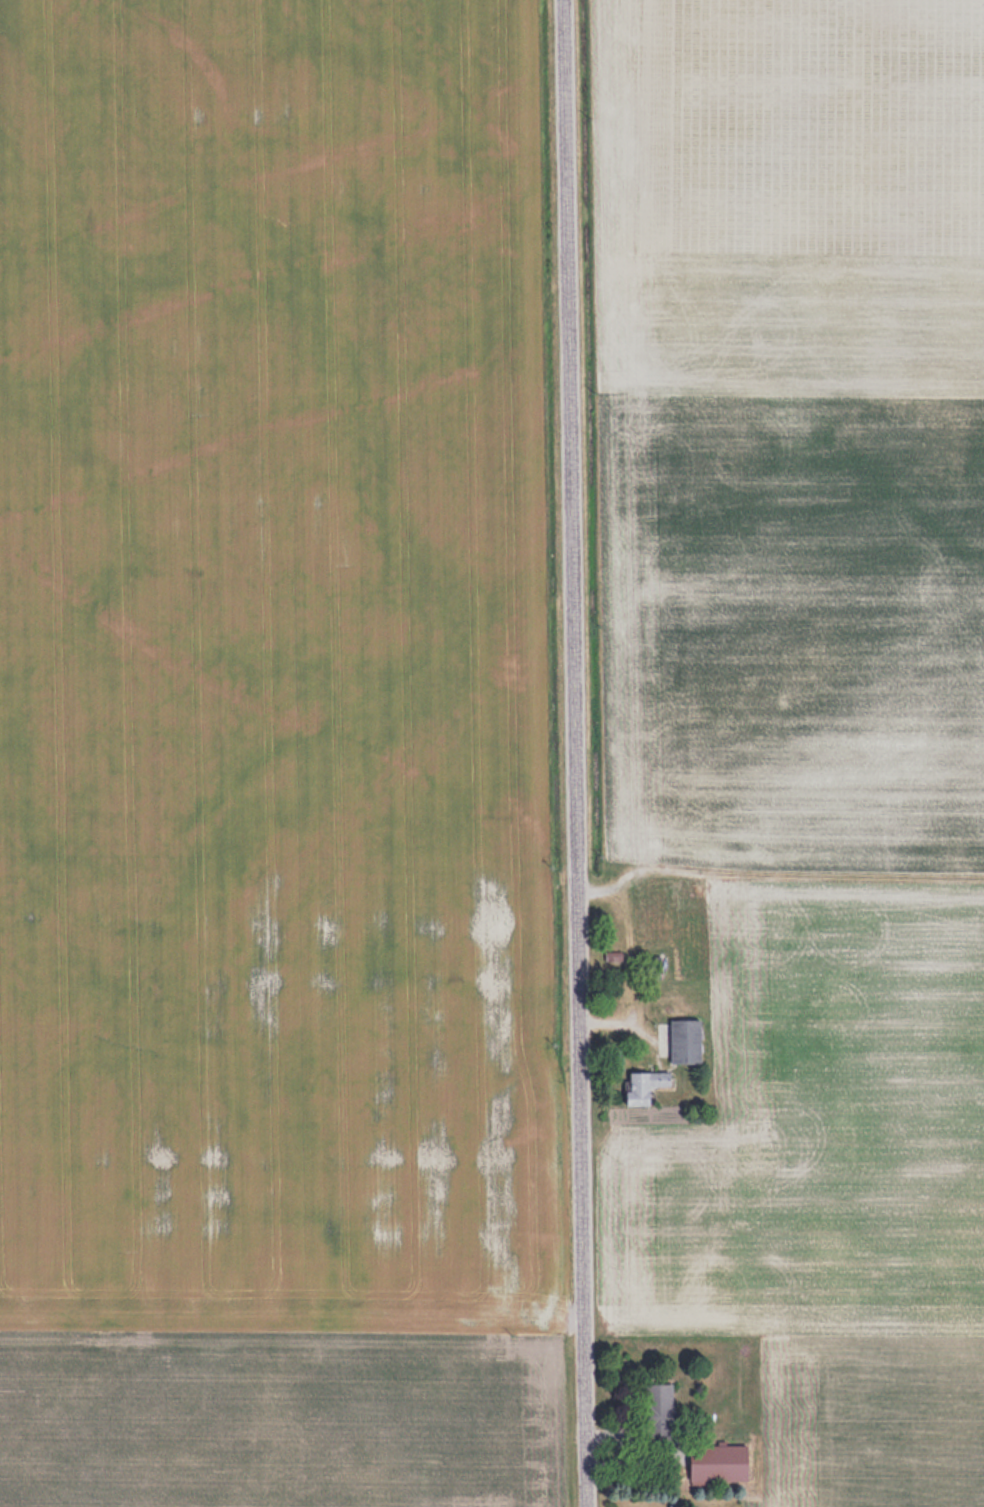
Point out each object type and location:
road: (578, 753)
building: (652, 909)
building: (683, 1041)
building: (642, 1086)
building: (657, 1413)

